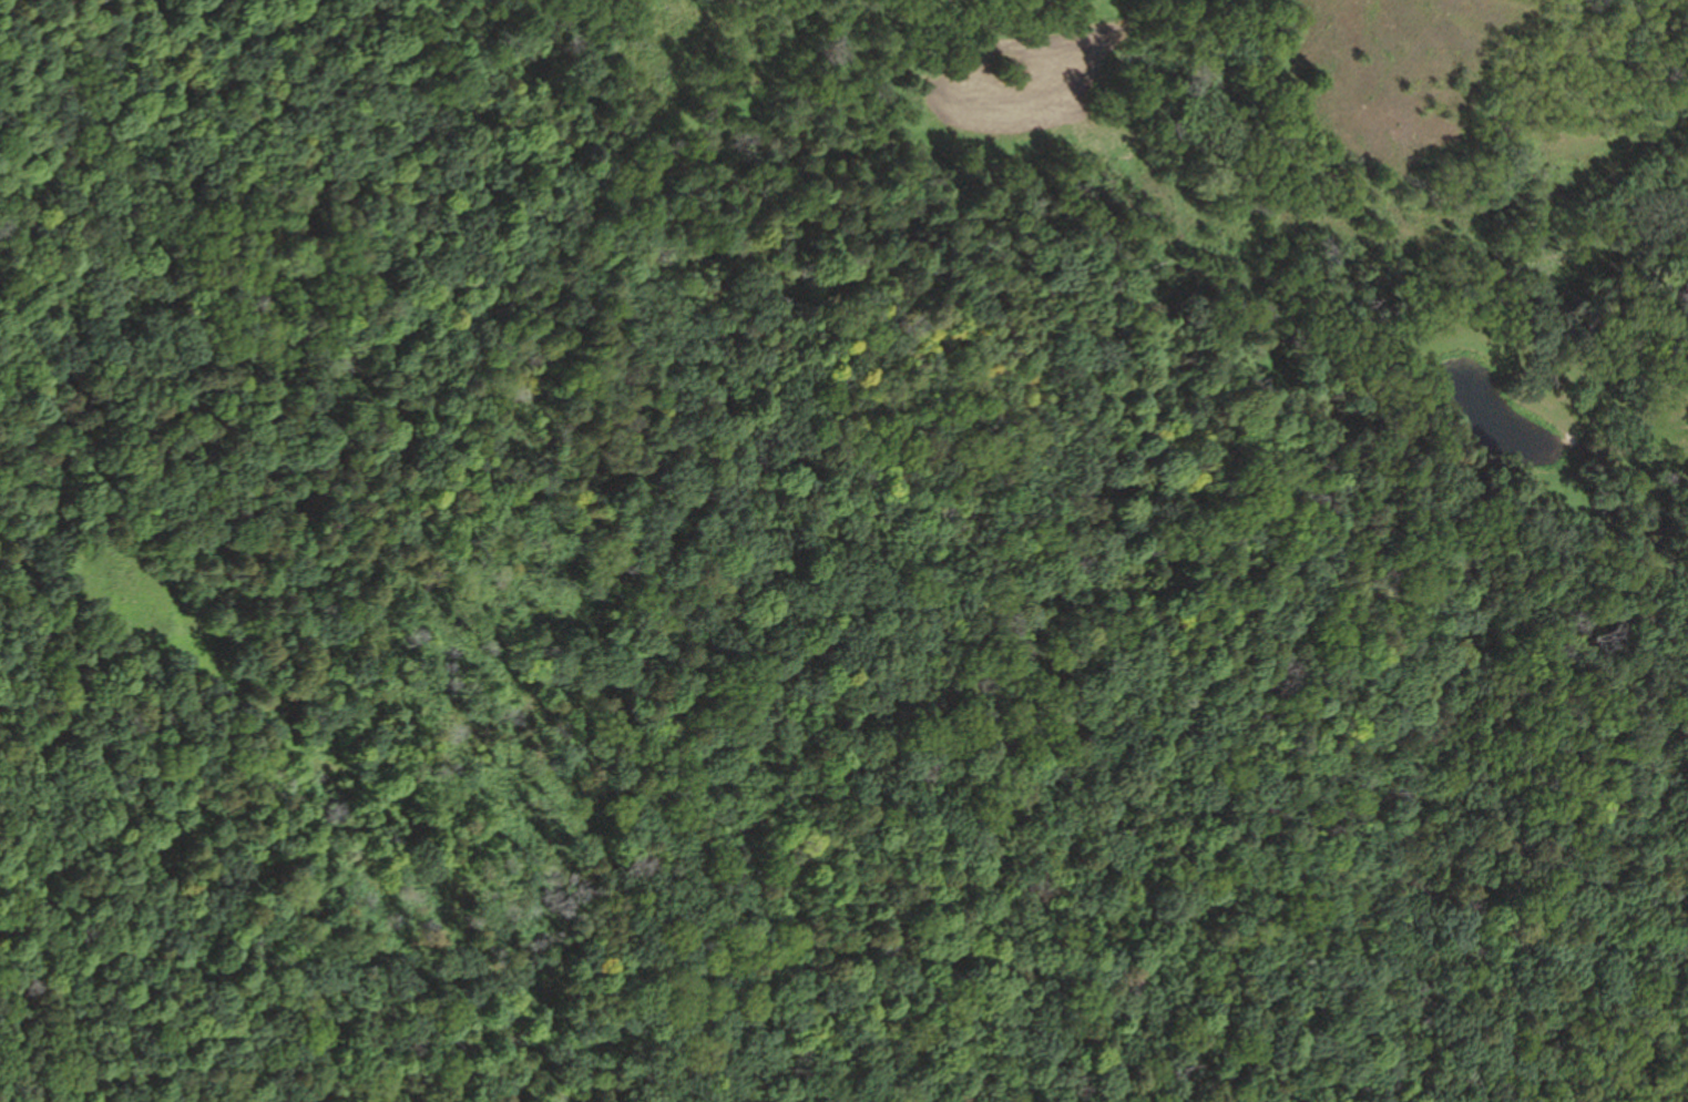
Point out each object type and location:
building: (1684, 347)

